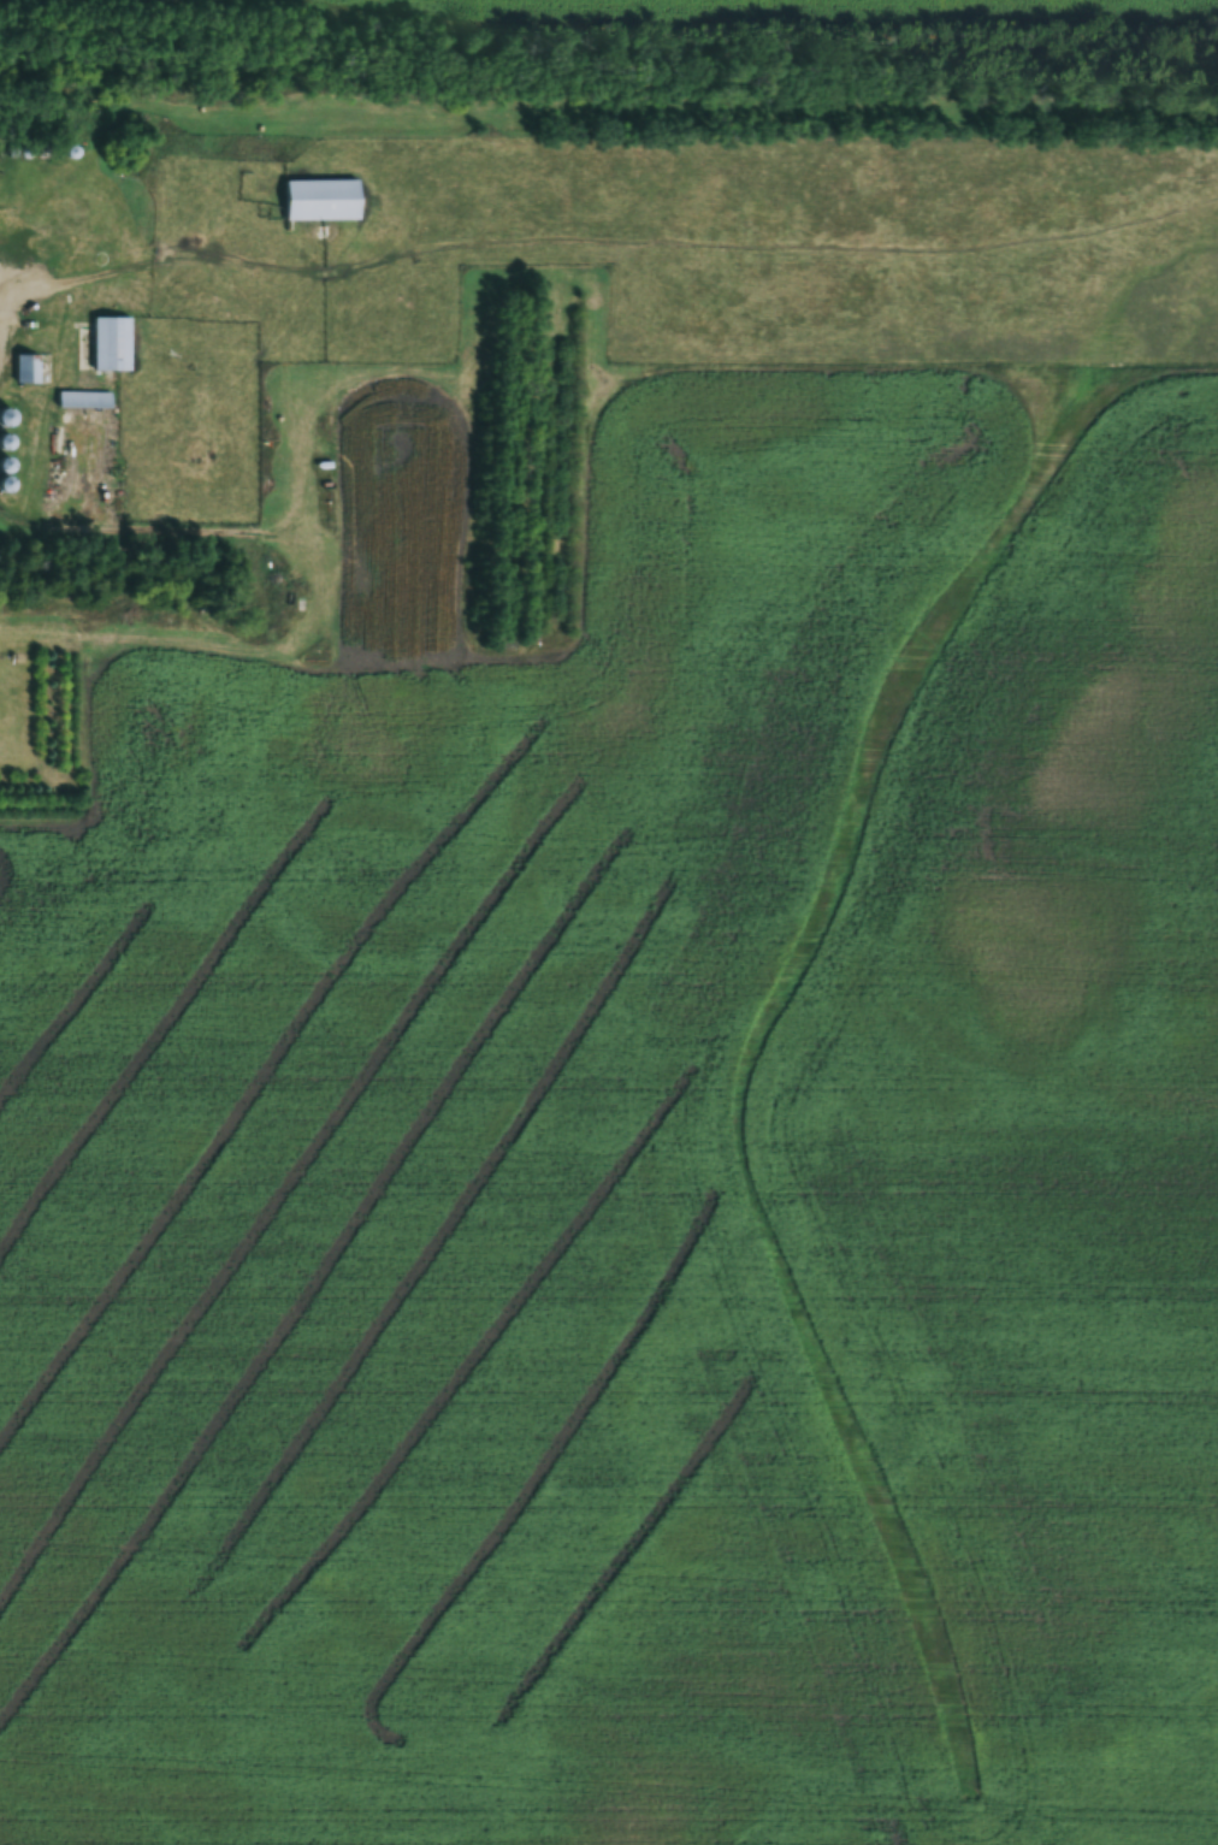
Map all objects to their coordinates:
building: (324, 201)
building: (113, 345)
building: (84, 401)

